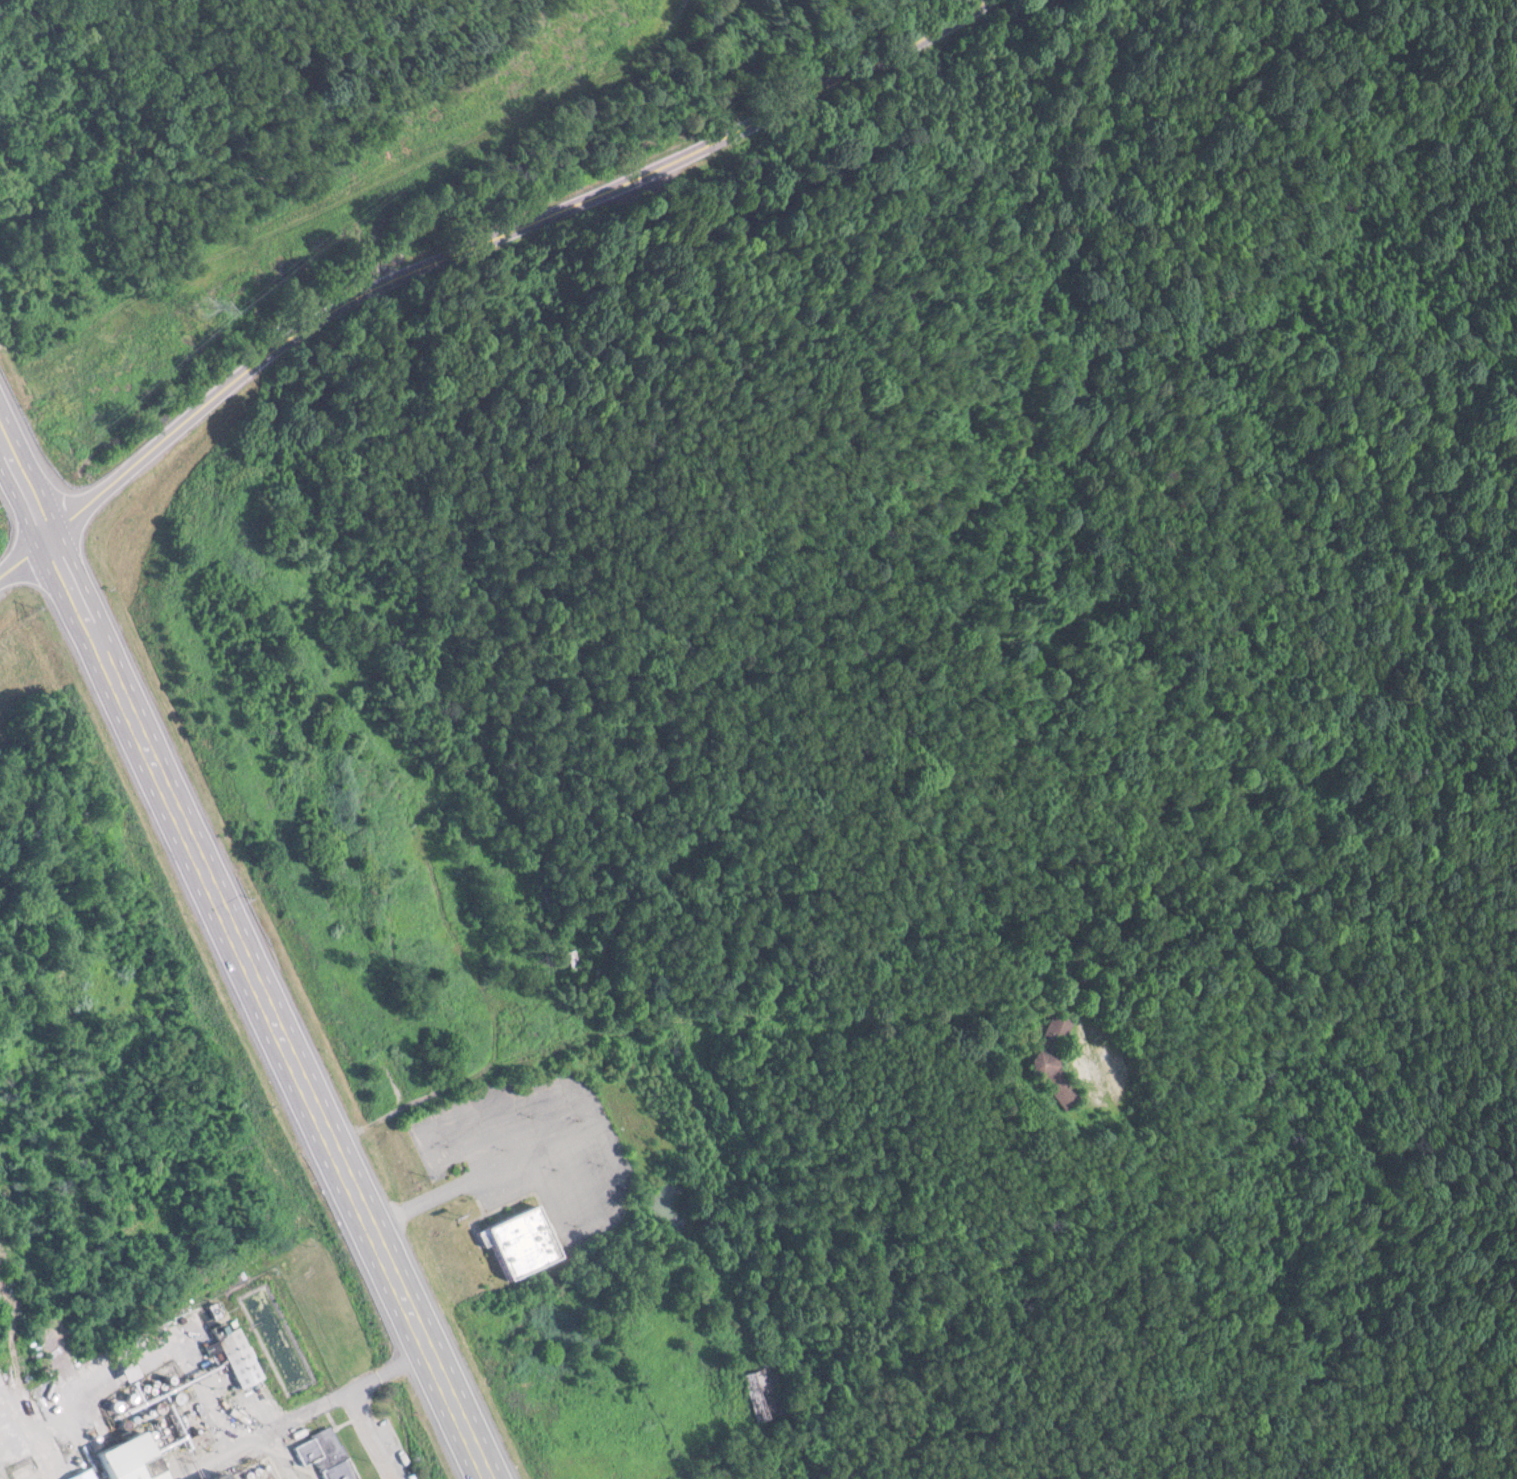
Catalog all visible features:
road: (493, 239)
road: (17, 554)
road: (238, 971)
road: (398, 1205)
building: (515, 1234)
crop: (503, 1241)
building: (232, 1350)
road: (185, 1357)
road: (365, 1406)
building: (303, 1444)
building: (209, 1447)
road: (273, 1452)
building: (117, 1454)
building: (335, 1467)
building: (76, 1471)

